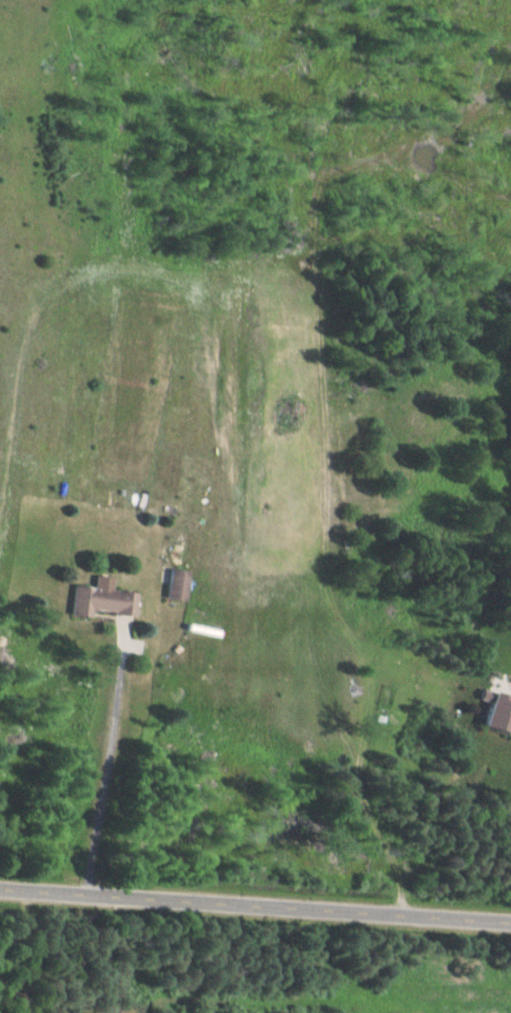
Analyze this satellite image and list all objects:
building: (172, 586)
building: (98, 603)
building: (495, 715)
road: (107, 761)
road: (255, 905)

